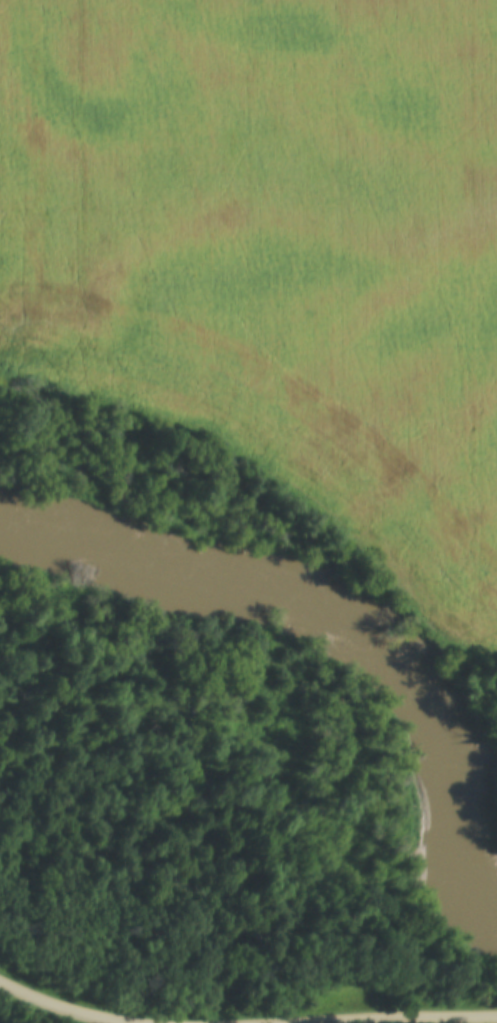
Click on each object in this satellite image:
river: (330, 607)
road: (62, 1006)
road: (380, 1016)

